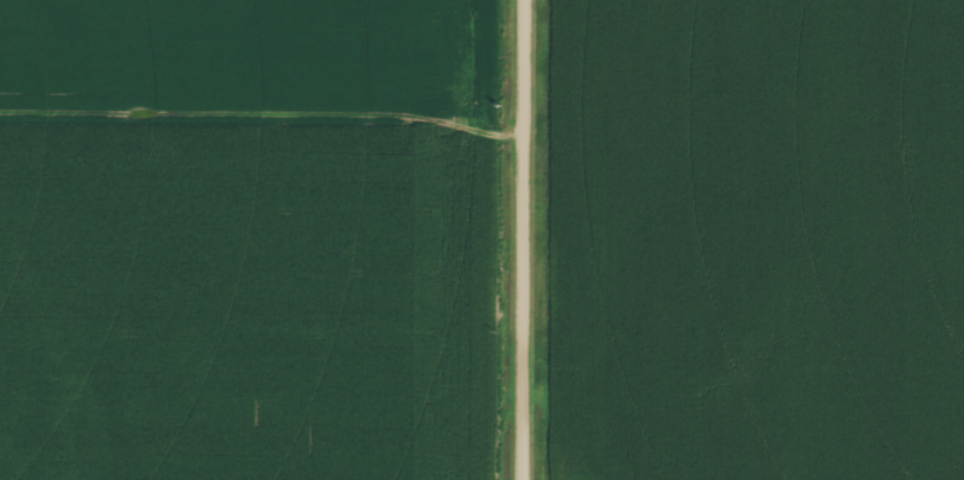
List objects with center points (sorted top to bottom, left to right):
road: (525, 239)

